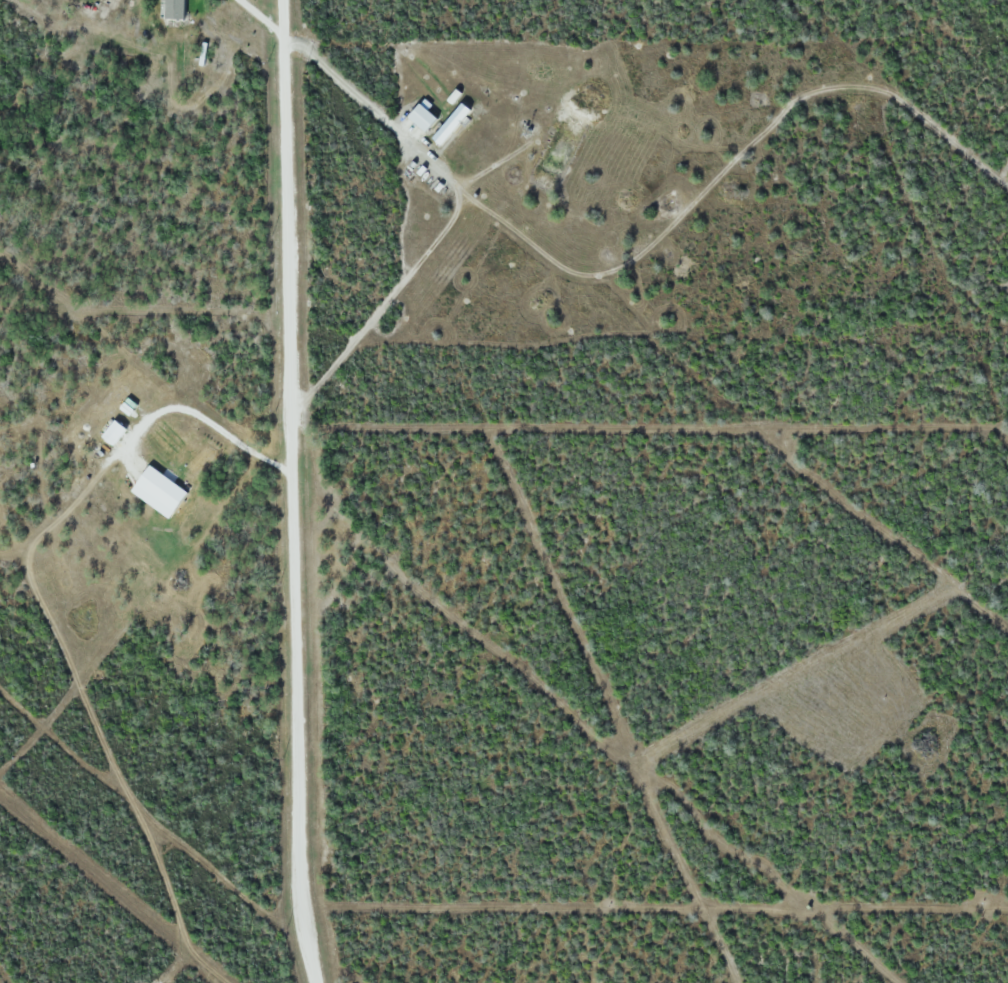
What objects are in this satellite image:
building: (419, 122)

